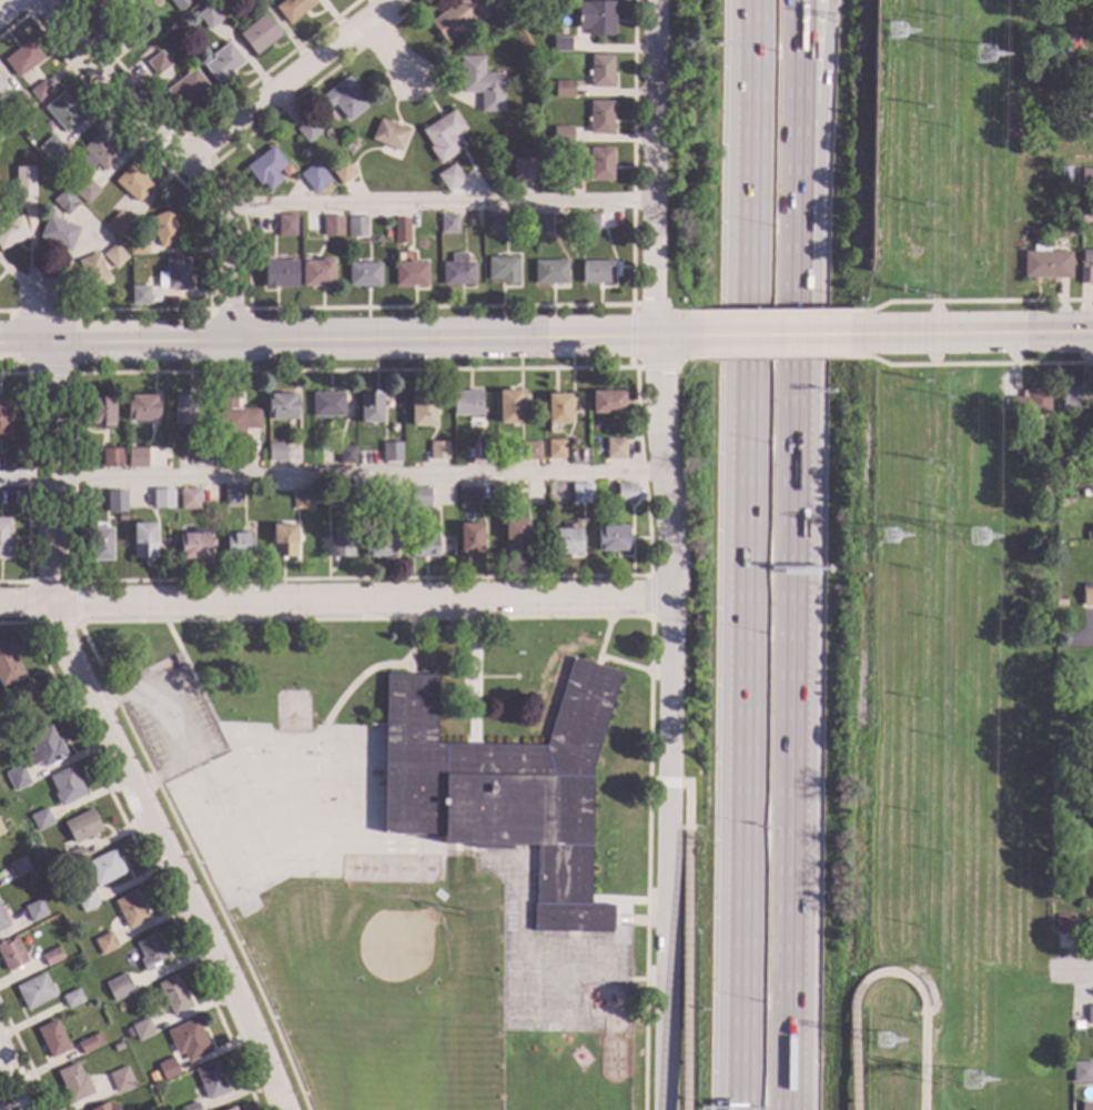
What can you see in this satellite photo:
building: (499, 0)
building: (540, 0)
building: (107, 3)
building: (179, 3)
road: (10, 8)
building: (292, 8)
building: (208, 17)
building: (456, 17)
building: (596, 17)
building: (259, 33)
building: (132, 37)
power tower: (895, 40)
building: (560, 43)
street lamp: (773, 49)
road: (388, 51)
building: (22, 60)
building: (222, 61)
building: (158, 62)
power tower: (984, 68)
building: (600, 70)
road: (292, 80)
building: (480, 83)
building: (563, 88)
building: (2, 89)
building: (188, 89)
building: (40, 90)
road: (800, 92)
road: (814, 92)
building: (342, 98)
building: (22, 102)
building: (1075, 109)
building: (63, 111)
building: (599, 117)
building: (307, 130)
building: (561, 134)
building: (388, 135)
building: (443, 135)
building: (51, 148)
road: (180, 151)
building: (98, 152)
building: (574, 158)
building: (599, 163)
building: (265, 168)
building: (522, 168)
road: (655, 168)
building: (342, 171)
building: (1063, 174)
building: (1086, 175)
building: (314, 176)
building: (449, 176)
building: (23, 180)
building: (132, 183)
building: (84, 189)
building: (64, 201)
road: (438, 208)
building: (1064, 215)
building: (1085, 215)
building: (588, 221)
building: (447, 222)
building: (468, 222)
building: (540, 222)
building: (119, 223)
building: (495, 223)
building: (286, 225)
building: (332, 225)
building: (356, 226)
building: (163, 228)
building: (401, 230)
building: (1071, 230)
building: (12, 232)
building: (58, 232)
building: (386, 234)
street lamp: (771, 238)
building: (125, 241)
building: (138, 248)
building: (114, 255)
building: (1086, 255)
building: (1044, 263)
building: (502, 269)
building: (456, 270)
building: (93, 271)
building: (595, 271)
building: (316, 272)
building: (549, 272)
building: (279, 273)
building: (173, 274)
building: (363, 274)
building: (409, 274)
building: (1084, 275)
building: (140, 294)
road: (43, 315)
road: (976, 332)
road: (772, 334)
road: (669, 335)
road: (326, 340)
building: (1070, 393)
building: (1030, 401)
building: (606, 402)
building: (466, 403)
building: (326, 404)
building: (281, 405)
building: (508, 406)
building: (368, 407)
building: (142, 408)
building: (556, 408)
building: (183, 410)
building: (422, 410)
building: (101, 411)
building: (234, 416)
building: (4, 418)
building: (1087, 441)
building: (571, 442)
street lamp: (769, 443)
building: (1061, 443)
building: (555, 448)
building: (615, 448)
building: (437, 450)
building: (483, 450)
building: (530, 451)
building: (275, 452)
building: (391, 452)
building: (204, 454)
building: (346, 455)
building: (454, 456)
building: (111, 457)
building: (136, 457)
building: (314, 463)
road: (49, 472)
road: (332, 475)
building: (1045, 481)
building: (1090, 486)
building: (625, 492)
building: (580, 493)
building: (232, 495)
building: (395, 496)
building: (417, 496)
building: (163, 497)
building: (350, 497)
building: (466, 497)
building: (189, 498)
building: (302, 500)
building: (115, 501)
building: (504, 507)
building: (121, 517)
building: (1090, 531)
building: (4, 537)
building: (469, 537)
building: (514, 537)
building: (611, 537)
building: (282, 541)
building: (565, 541)
building: (143, 542)
building: (100, 544)
building: (379, 544)
power tower: (888, 544)
building: (194, 545)
building: (237, 545)
building: (423, 546)
power tower: (976, 546)
building: (340, 547)
road: (740, 554)
building: (1086, 595)
road: (358, 602)
building: (1060, 602)
road: (26, 604)
street lamp: (766, 619)
road: (792, 647)
building: (8, 664)
building: (1087, 687)
building: (27, 702)
road: (171, 719)
road: (665, 723)
building: (1092, 736)
building: (43, 747)
building: (17, 777)
road: (650, 781)
road: (664, 781)
building: (65, 786)
building: (504, 788)
building: (1090, 789)
street lamp: (763, 800)
road: (687, 801)
building: (41, 819)
building: (82, 826)
building: (1, 830)
building: (1091, 837)
building: (74, 855)
road: (164, 856)
building: (18, 866)
building: (104, 867)
building: (1091, 888)
building: (85, 899)
building: (34, 909)
building: (131, 909)
building: (2, 920)
building: (1062, 924)
building: (105, 942)
road: (645, 945)
building: (150, 950)
building: (11, 953)
building: (50, 956)
building: (131, 957)
road: (685, 970)
road: (1073, 970)
street lamp: (761, 985)
building: (118, 986)
building: (33, 990)
building: (172, 995)
building: (72, 998)
road: (852, 1002)
building: (1090, 1015)
building: (1076, 1025)
building: (141, 1029)
building: (128, 1032)
building: (51, 1038)
building: (188, 1039)
building: (89, 1042)
building: (117, 1046)
power tower: (881, 1050)
road: (923, 1058)
building: (166, 1068)
building: (1082, 1071)
building: (120, 1079)
building: (210, 1080)
building: (73, 1082)
power tower: (972, 1088)
road: (9, 1089)
building: (1086, 1106)
building: (104, 1107)
building: (191, 1107)
building: (230, 1109)

